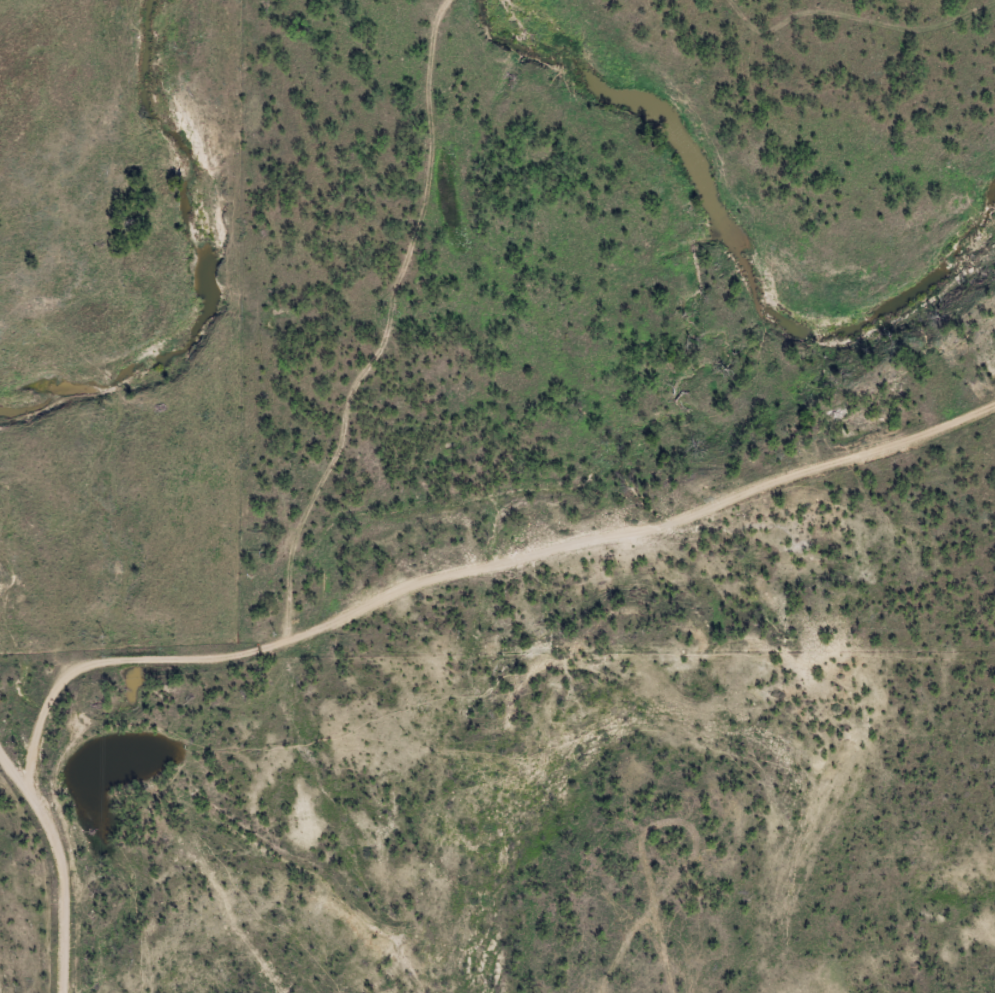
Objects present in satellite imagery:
road: (479, 583)
road: (30, 882)

